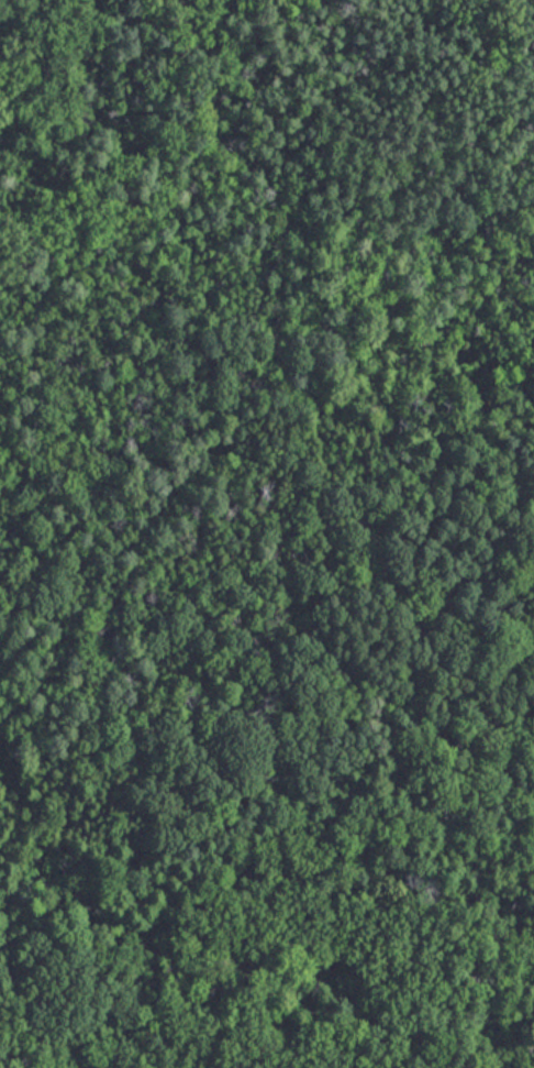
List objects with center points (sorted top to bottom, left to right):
park: (267, 533)

